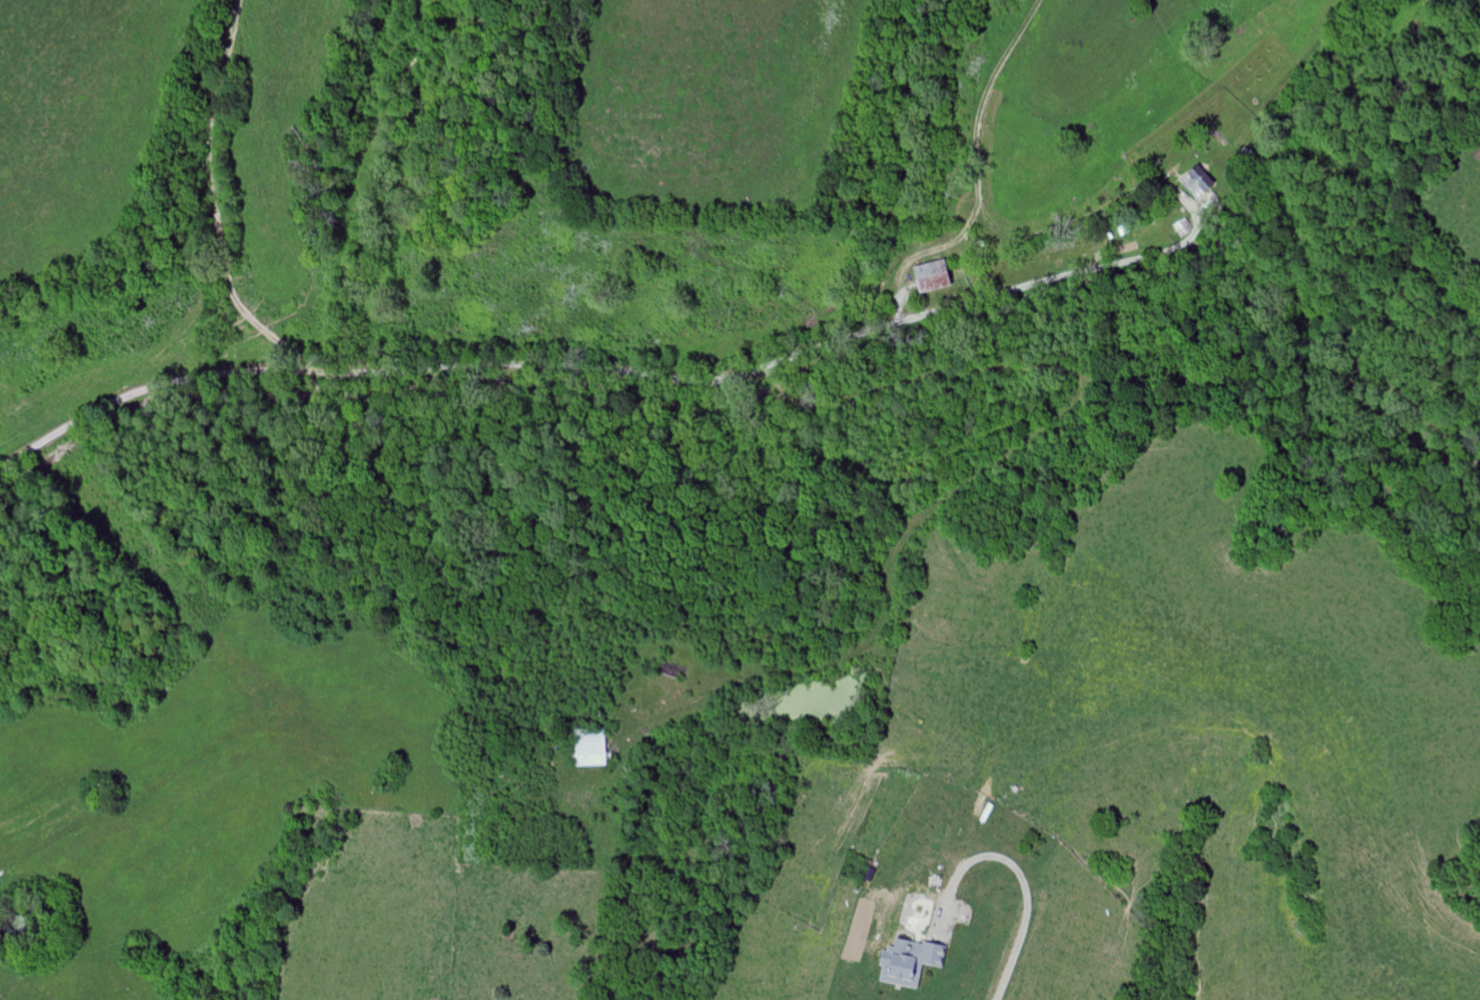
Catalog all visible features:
building: (1200, 182)
building: (936, 276)
road: (597, 366)
road: (1016, 877)
building: (912, 962)

